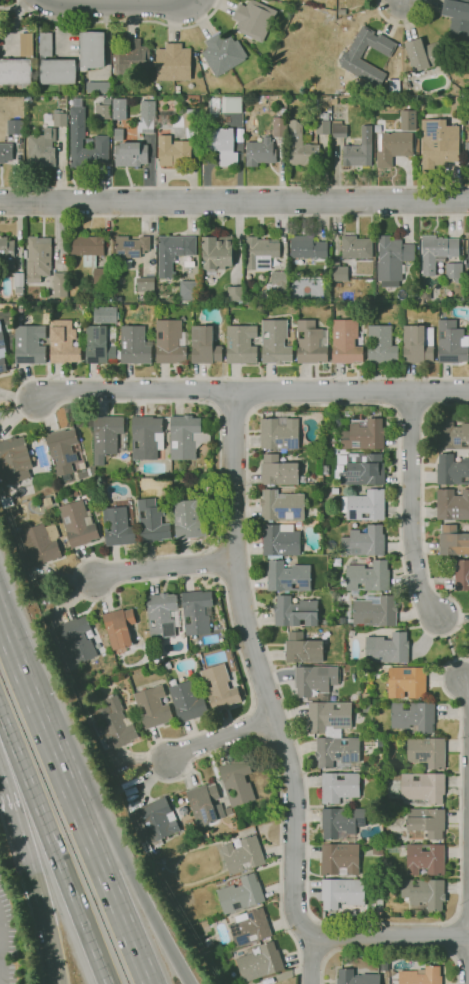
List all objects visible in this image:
road: (197, 1)
road: (400, 1)
road: (118, 3)
road: (420, 4)
building: (457, 16)
road: (391, 18)
building: (252, 19)
road: (404, 21)
road: (120, 22)
road: (402, 25)
building: (24, 44)
building: (44, 44)
building: (90, 49)
building: (221, 53)
building: (351, 55)
building: (424, 55)
building: (130, 56)
building: (171, 62)
building: (14, 70)
building: (56, 71)
building: (392, 85)
building: (406, 85)
building: (96, 86)
building: (230, 104)
building: (118, 108)
building: (146, 114)
building: (58, 118)
building: (407, 119)
building: (13, 126)
building: (321, 127)
building: (377, 128)
building: (338, 129)
building: (77, 137)
building: (438, 142)
building: (221, 145)
building: (393, 147)
building: (41, 148)
building: (301, 148)
building: (358, 150)
building: (5, 152)
building: (173, 152)
building: (260, 152)
building: (466, 154)
building: (130, 155)
road: (234, 187)
road: (234, 204)
road: (234, 216)
building: (131, 247)
building: (307, 247)
building: (356, 247)
building: (86, 249)
building: (173, 252)
building: (217, 252)
building: (260, 253)
building: (7, 254)
building: (24, 254)
building: (467, 255)
building: (441, 256)
building: (38, 259)
building: (392, 260)
building: (188, 264)
building: (340, 273)
building: (101, 278)
building: (60, 284)
building: (145, 284)
building: (277, 285)
building: (18, 286)
building: (189, 291)
building: (413, 292)
building: (235, 294)
building: (424, 296)
building: (19, 317)
building: (2, 340)
building: (170, 341)
building: (276, 342)
building: (345, 342)
building: (63, 343)
building: (311, 343)
building: (451, 343)
building: (29, 344)
building: (100, 344)
building: (417, 344)
building: (135, 345)
building: (204, 345)
building: (241, 345)
building: (381, 345)
building: (2, 365)
road: (256, 392)
road: (353, 392)
road: (139, 393)
road: (234, 413)
road: (409, 415)
building: (279, 433)
building: (450, 433)
building: (364, 435)
building: (106, 436)
building: (146, 437)
building: (186, 437)
building: (332, 444)
building: (64, 450)
building: (15, 460)
building: (363, 469)
building: (451, 470)
building: (278, 471)
building: (302, 478)
building: (24, 491)
building: (75, 494)
building: (452, 505)
building: (281, 506)
building: (366, 506)
road: (411, 507)
building: (14, 511)
road: (422, 511)
building: (55, 512)
building: (189, 519)
building: (152, 522)
building: (78, 524)
building: (118, 527)
building: (280, 540)
building: (452, 541)
building: (38, 542)
building: (364, 542)
road: (145, 557)
road: (163, 567)
building: (286, 575)
building: (462, 575)
building: (367, 576)
building: (374, 611)
building: (197, 612)
building: (295, 612)
building: (161, 615)
building: (119, 628)
building: (146, 634)
building: (74, 642)
building: (302, 648)
building: (387, 648)
road: (450, 648)
building: (198, 656)
road: (461, 660)
building: (168, 666)
road: (259, 669)
road: (273, 675)
building: (315, 680)
road: (25, 682)
building: (406, 682)
road: (465, 685)
building: (219, 688)
building: (365, 697)
building: (187, 702)
building: (153, 707)
building: (367, 707)
building: (413, 716)
building: (329, 717)
building: (113, 725)
road: (219, 738)
building: (380, 742)
building: (336, 751)
building: (426, 752)
road: (64, 780)
building: (236, 782)
building: (338, 787)
building: (423, 787)
building: (130, 791)
building: (205, 804)
building: (396, 806)
building: (153, 822)
building: (427, 822)
building: (341, 823)
road: (54, 850)
building: (377, 851)
building: (242, 855)
building: (339, 859)
building: (425, 859)
road: (31, 877)
building: (342, 892)
road: (139, 893)
building: (424, 893)
building: (241, 894)
road: (112, 898)
road: (293, 902)
road: (463, 913)
building: (249, 928)
road: (389, 936)
road: (449, 938)
road: (328, 939)
road: (1, 945)
road: (389, 950)
building: (259, 961)
road: (311, 961)
road: (1, 966)
building: (421, 976)
building: (356, 978)

